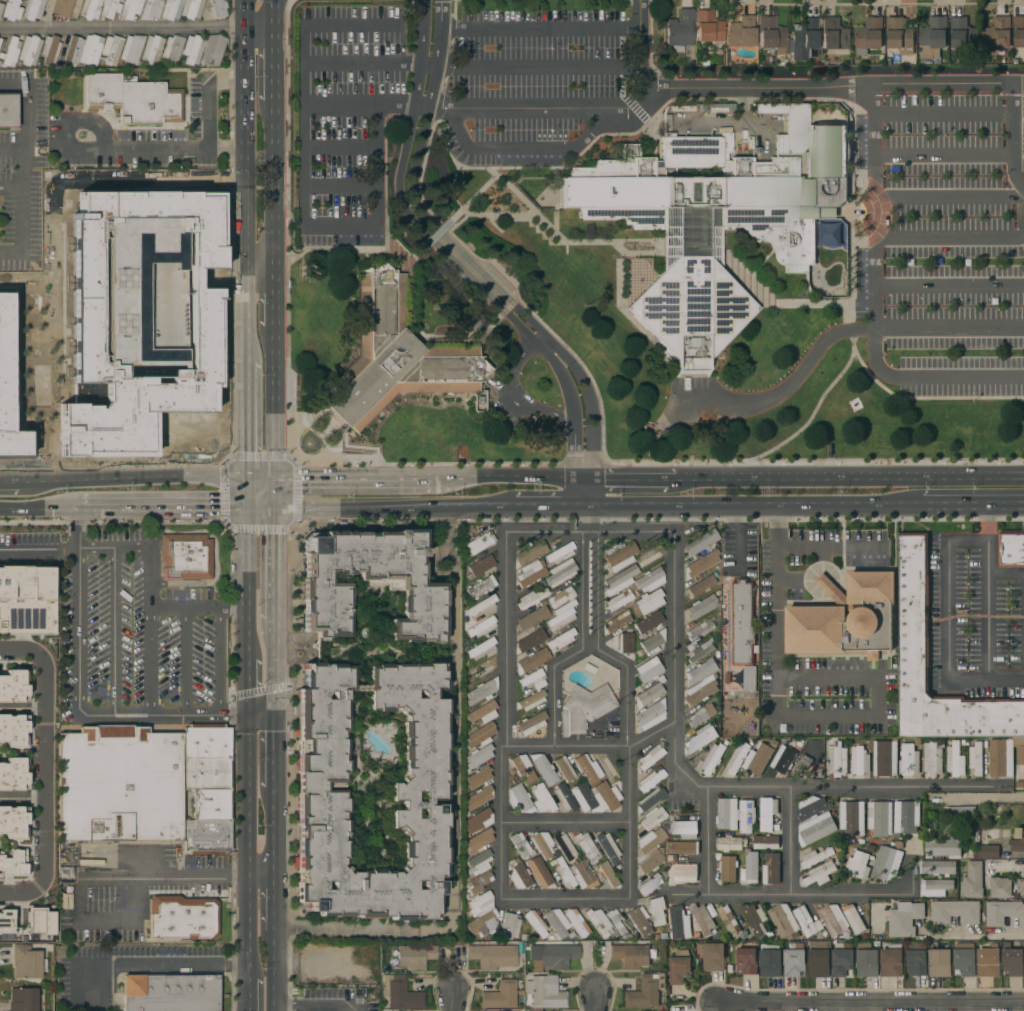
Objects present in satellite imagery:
building: (1, 7)
building: (61, 7)
building: (110, 8)
building: (130, 8)
building: (191, 8)
building: (33, 9)
building: (90, 9)
building: (151, 9)
building: (171, 9)
building: (217, 9)
building: (11, 10)
road: (243, 14)
road: (273, 14)
road: (333, 24)
building: (707, 26)
road: (136, 28)
road: (540, 29)
building: (680, 30)
building: (1018, 31)
building: (740, 32)
building: (961, 32)
building: (997, 33)
building: (770, 34)
building: (834, 34)
building: (868, 35)
building: (899, 35)
building: (804, 38)
building: (932, 38)
building: (0, 40)
road: (641, 46)
building: (131, 48)
building: (111, 49)
building: (151, 49)
building: (183, 49)
building: (212, 49)
building: (29, 50)
building: (49, 50)
building: (83, 50)
building: (11, 51)
road: (438, 54)
road: (427, 65)
road: (272, 67)
road: (539, 67)
parking lot: (540, 84)
road: (1018, 84)
road: (828, 85)
building: (133, 100)
road: (339, 105)
road: (422, 106)
building: (716, 107)
building: (682, 108)
road: (541, 109)
building: (8, 110)
road: (943, 113)
parking lot: (345, 119)
road: (21, 136)
road: (1012, 137)
road: (340, 147)
road: (141, 149)
road: (226, 149)
road: (522, 149)
road: (10, 150)
road: (243, 153)
road: (943, 155)
road: (340, 186)
road: (272, 191)
road: (950, 196)
road: (303, 199)
building: (714, 220)
road: (20, 230)
road: (951, 237)
parking lot: (947, 241)
road: (444, 254)
road: (258, 278)
road: (485, 283)
road: (948, 285)
road: (504, 290)
road: (873, 300)
road: (272, 302)
road: (244, 321)
road: (948, 327)
building: (134, 337)
building: (4, 356)
building: (394, 356)
road: (515, 391)
road: (774, 395)
road: (925, 398)
building: (480, 399)
road: (273, 405)
road: (863, 408)
road: (812, 415)
road: (245, 422)
building: (194, 442)
road: (657, 464)
road: (899, 477)
road: (636, 478)
road: (725, 478)
road: (513, 479)
road: (122, 480)
traffic signals: (245, 481)
road: (259, 482)
road: (352, 482)
traffic signals: (274, 483)
road: (577, 492)
road: (596, 492)
road: (245, 496)
road: (274, 497)
road: (972, 504)
road: (758, 505)
road: (550, 506)
road: (587, 506)
road: (398, 508)
road: (39, 510)
road: (161, 511)
road: (259, 511)
traffic signals: (274, 511)
traffic signals: (245, 512)
road: (588, 531)
building: (701, 542)
building: (480, 543)
road: (39, 548)
road: (803, 548)
building: (1011, 548)
building: (530, 553)
building: (560, 553)
building: (619, 555)
building: (648, 556)
building: (185, 557)
road: (776, 557)
building: (699, 564)
building: (481, 566)
road: (245, 572)
building: (530, 573)
building: (560, 573)
road: (1005, 574)
road: (273, 575)
building: (650, 579)
building: (619, 580)
building: (369, 581)
building: (700, 586)
building: (480, 587)
road: (150, 589)
building: (560, 597)
building: (531, 598)
building: (26, 600)
building: (914, 600)
building: (617, 601)
building: (649, 601)
building: (481, 605)
building: (700, 607)
road: (946, 609)
road: (986, 610)
building: (561, 615)
building: (532, 617)
building: (845, 617)
building: (617, 621)
building: (742, 622)
building: (648, 623)
building: (481, 627)
building: (701, 629)
road: (112, 632)
road: (597, 633)
road: (581, 634)
building: (561, 639)
building: (529, 641)
building: (625, 642)
building: (652, 642)
building: (480, 648)
building: (700, 650)
road: (149, 660)
building: (531, 661)
road: (184, 662)
road: (218, 662)
building: (479, 671)
building: (700, 671)
building: (648, 672)
building: (749, 678)
road: (858, 678)
building: (532, 679)
building: (13, 686)
building: (700, 690)
building: (481, 691)
building: (648, 693)
building: (531, 700)
road: (79, 707)
building: (584, 708)
road: (273, 711)
building: (481, 711)
building: (649, 715)
building: (700, 715)
road: (502, 716)
building: (531, 722)
road: (246, 725)
building: (13, 731)
building: (481, 735)
building: (700, 739)
building: (206, 741)
road: (589, 745)
building: (1018, 751)
building: (478, 756)
building: (650, 757)
building: (713, 757)
building: (738, 757)
building: (757, 758)
building: (885, 758)
building: (976, 758)
building: (1001, 758)
building: (783, 759)
building: (932, 759)
building: (954, 759)
building: (837, 760)
building: (859, 760)
building: (908, 760)
building: (802, 764)
building: (206, 766)
building: (523, 768)
building: (543, 769)
building: (564, 769)
building: (586, 769)
building: (607, 769)
road: (43, 770)
building: (12, 775)
road: (232, 775)
building: (478, 775)
building: (649, 780)
building: (206, 781)
building: (119, 785)
road: (720, 786)
building: (416, 797)
building: (478, 797)
building: (595, 797)
building: (518, 798)
building: (649, 798)
road: (21, 799)
building: (541, 799)
building: (563, 799)
road: (982, 799)
road: (449, 804)
building: (211, 805)
building: (812, 807)
building: (960, 812)
building: (767, 813)
building: (726, 814)
building: (746, 816)
building: (652, 817)
building: (852, 817)
building: (905, 817)
building: (879, 818)
building: (478, 820)
building: (12, 822)
road: (564, 822)
road: (626, 822)
building: (685, 827)
building: (815, 829)
road: (272, 833)
building: (206, 838)
building: (479, 838)
building: (649, 840)
road: (789, 840)
building: (1017, 840)
road: (707, 841)
building: (766, 842)
building: (730, 843)
building: (542, 844)
building: (520, 845)
building: (564, 846)
building: (587, 847)
building: (681, 847)
building: (608, 848)
building: (941, 848)
building: (986, 849)
road: (246, 851)
building: (816, 858)
building: (478, 860)
building: (12, 861)
building: (651, 861)
building: (886, 862)
building: (858, 865)
building: (750, 868)
building: (771, 868)
building: (937, 868)
building: (729, 870)
building: (538, 872)
building: (685, 872)
building: (563, 873)
building: (820, 873)
building: (519, 875)
building: (582, 875)
building: (605, 875)
building: (973, 880)
building: (478, 881)
road: (179, 882)
building: (649, 885)
building: (1020, 886)
building: (1000, 887)
building: (935, 888)
road: (786, 894)
road: (563, 900)
building: (480, 903)
road: (272, 907)
building: (657, 910)
building: (955, 911)
building: (1003, 912)
building: (703, 917)
building: (854, 917)
building: (182, 918)
building: (755, 919)
building: (832, 919)
building: (904, 919)
building: (728, 920)
building: (778, 920)
building: (804, 920)
building: (6, 921)
building: (39, 921)
building: (598, 921)
building: (556, 922)
building: (576, 922)
building: (617, 922)
building: (639, 922)
building: (677, 922)
building: (535, 923)
building: (481, 924)
building: (509, 926)
road: (247, 932)
road: (1011, 933)
building: (632, 955)
building: (415, 956)
building: (492, 956)
building: (552, 956)
building: (711, 956)
building: (915, 958)
building: (818, 959)
building: (842, 959)
building: (746, 960)
building: (866, 960)
building: (891, 960)
building: (27, 961)
building: (770, 961)
building: (794, 961)
building: (964, 961)
building: (988, 961)
building: (1012, 961)
building: (939, 963)
road: (147, 964)
building: (679, 967)
road: (273, 970)
building: (170, 992)
building: (544, 992)
building: (644, 993)
building: (400, 994)
building: (500, 995)
road: (248, 997)
building: (22, 999)
road: (871, 1000)
road: (453, 1001)
road: (595, 1001)
road: (318, 1006)
building: (47, 1009)

